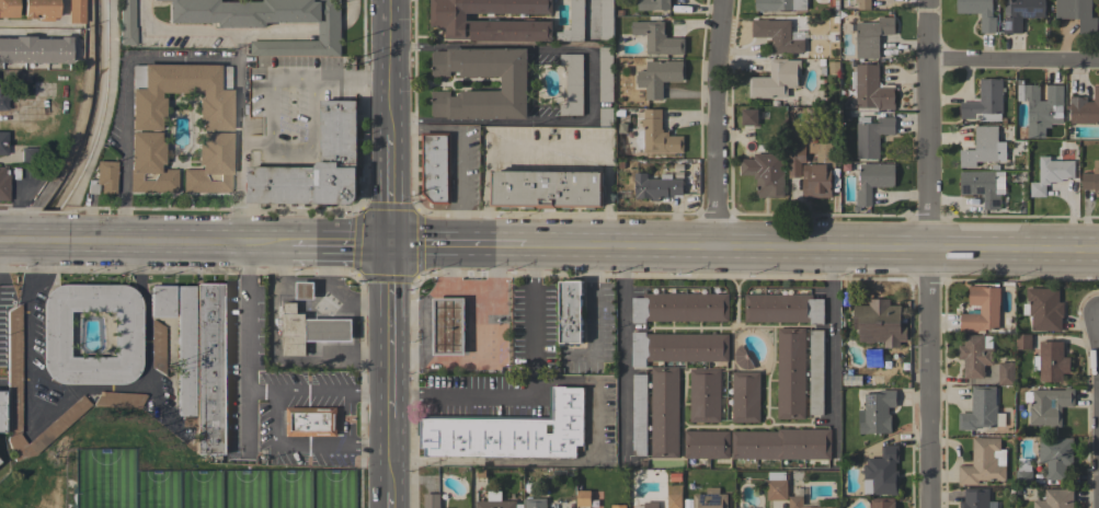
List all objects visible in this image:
building: (653, 4)
building: (779, 4)
building: (863, 4)
building: (8, 9)
building: (39, 9)
building: (75, 11)
building: (1022, 13)
road: (351, 14)
building: (1077, 14)
building: (492, 20)
building: (606, 20)
road: (31, 22)
building: (266, 22)
building: (125, 23)
building: (573, 23)
building: (987, 24)
road: (329, 27)
road: (276, 31)
road: (174, 32)
building: (777, 35)
building: (872, 36)
building: (657, 38)
road: (387, 39)
road: (237, 45)
road: (489, 46)
building: (34, 49)
road: (181, 59)
road: (1016, 59)
road: (591, 60)
building: (605, 73)
building: (659, 77)
road: (350, 79)
building: (776, 81)
building: (514, 83)
building: (572, 84)
building: (869, 88)
building: (2, 97)
road: (387, 100)
building: (985, 102)
building: (1041, 107)
building: (1085, 108)
building: (606, 116)
building: (748, 117)
road: (488, 122)
road: (717, 122)
building: (144, 126)
road: (387, 126)
building: (659, 135)
building: (871, 135)
building: (2, 143)
building: (984, 148)
road: (271, 149)
road: (459, 149)
road: (545, 149)
building: (26, 154)
building: (316, 165)
building: (435, 166)
building: (794, 166)
building: (820, 172)
building: (766, 173)
building: (1051, 174)
building: (102, 178)
building: (1091, 178)
building: (873, 181)
building: (3, 183)
road: (387, 186)
building: (983, 186)
building: (655, 187)
building: (547, 188)
road: (35, 241)
road: (181, 242)
road: (337, 242)
traffic signals: (387, 243)
road: (455, 243)
road: (811, 244)
road: (931, 253)
building: (306, 290)
road: (331, 296)
road: (595, 298)
building: (161, 301)
road: (299, 301)
building: (680, 308)
building: (782, 308)
building: (982, 309)
building: (1044, 309)
building: (571, 312)
building: (878, 321)
road: (388, 322)
building: (448, 326)
building: (330, 330)
building: (293, 331)
road: (827, 332)
building: (54, 334)
road: (354, 334)
building: (1022, 342)
road: (245, 345)
building: (157, 346)
road: (625, 347)
building: (678, 347)
building: (13, 354)
building: (184, 355)
building: (975, 355)
road: (274, 357)
building: (742, 358)
building: (871, 358)
building: (1051, 361)
building: (210, 369)
building: (815, 372)
building: (790, 373)
building: (1006, 373)
building: (851, 380)
road: (260, 390)
road: (72, 391)
road: (535, 392)
road: (273, 395)
building: (705, 395)
building: (745, 396)
building: (118, 400)
building: (1048, 406)
building: (982, 409)
building: (877, 412)
building: (656, 413)
building: (0, 414)
building: (311, 422)
building: (508, 431)
building: (706, 444)
building: (781, 444)
road: (367, 446)
road: (390, 447)
building: (1055, 457)
road: (560, 461)
building: (983, 462)
building: (883, 471)
park: (161, 475)
building: (1023, 477)
building: (776, 486)
building: (674, 496)
building: (583, 498)
building: (975, 498)
road: (391, 499)
building: (710, 499)
building: (1055, 499)
building: (432, 500)
building: (496, 501)
building: (797, 501)
building: (536, 503)
building: (882, 503)
building: (651, 504)
building: (618, 506)

